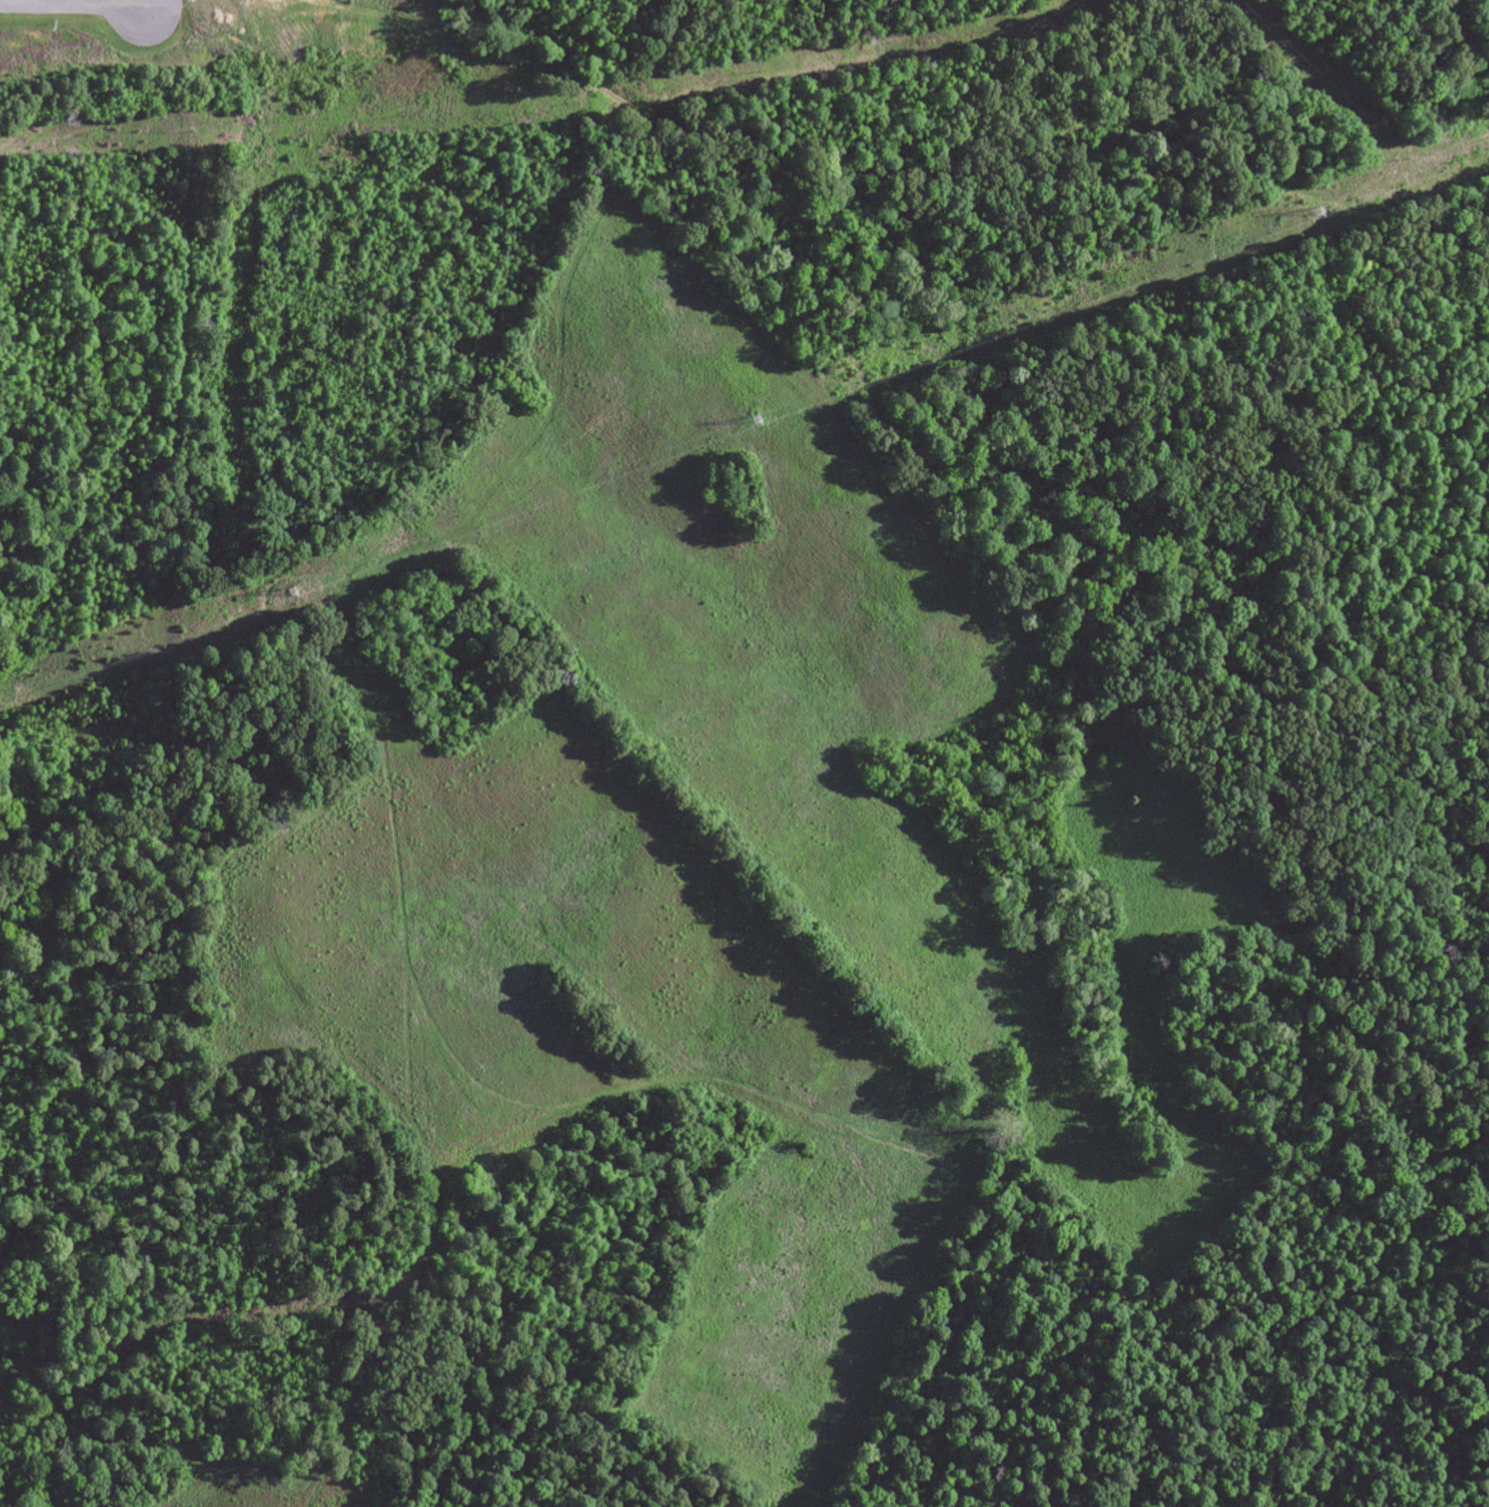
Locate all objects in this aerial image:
road: (64, 4)
road: (71, 9)
road: (94, 852)
building: (60, 895)

